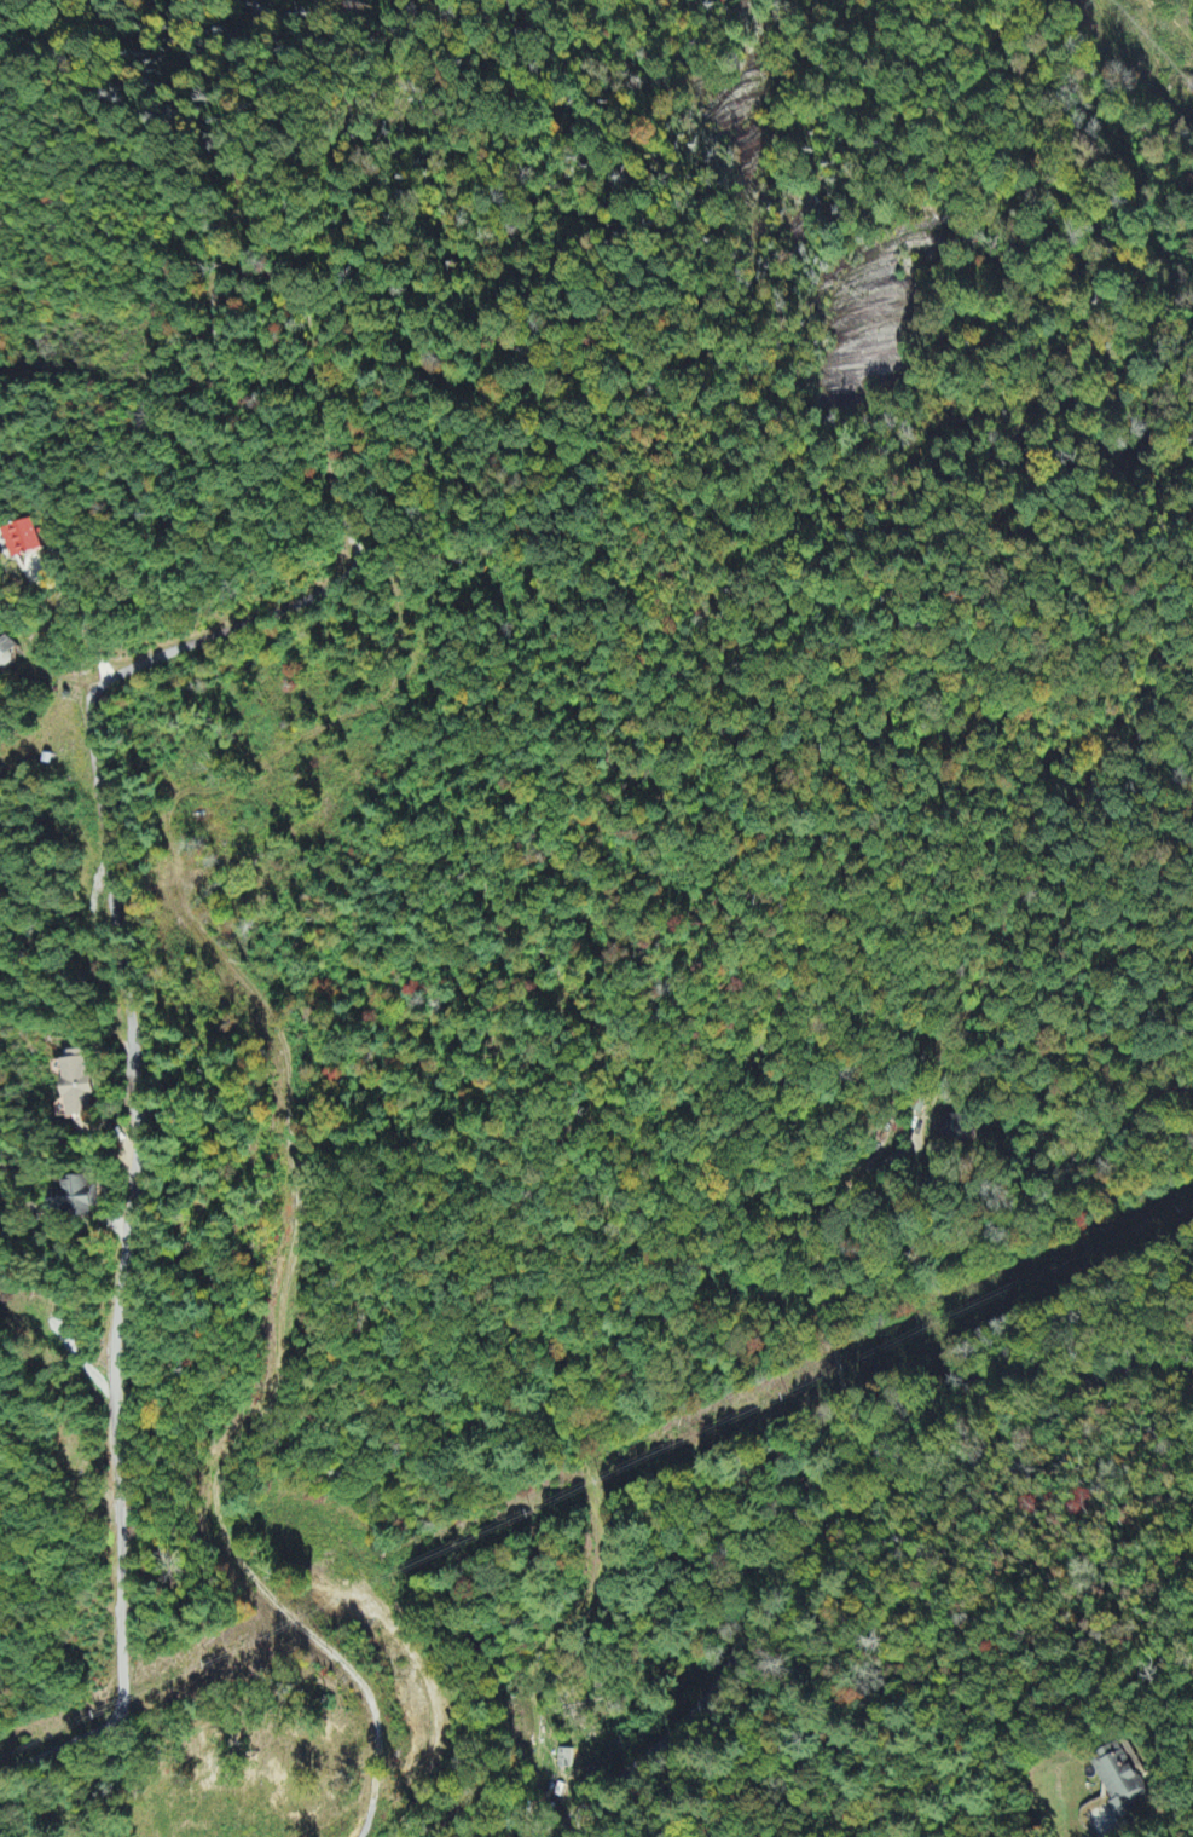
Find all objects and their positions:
building: (24, 541)
building: (7, 654)
building: (74, 1085)
building: (960, 1131)
road: (138, 1133)
building: (71, 1200)
road: (828, 1315)
road: (827, 1538)
building: (1119, 1781)

